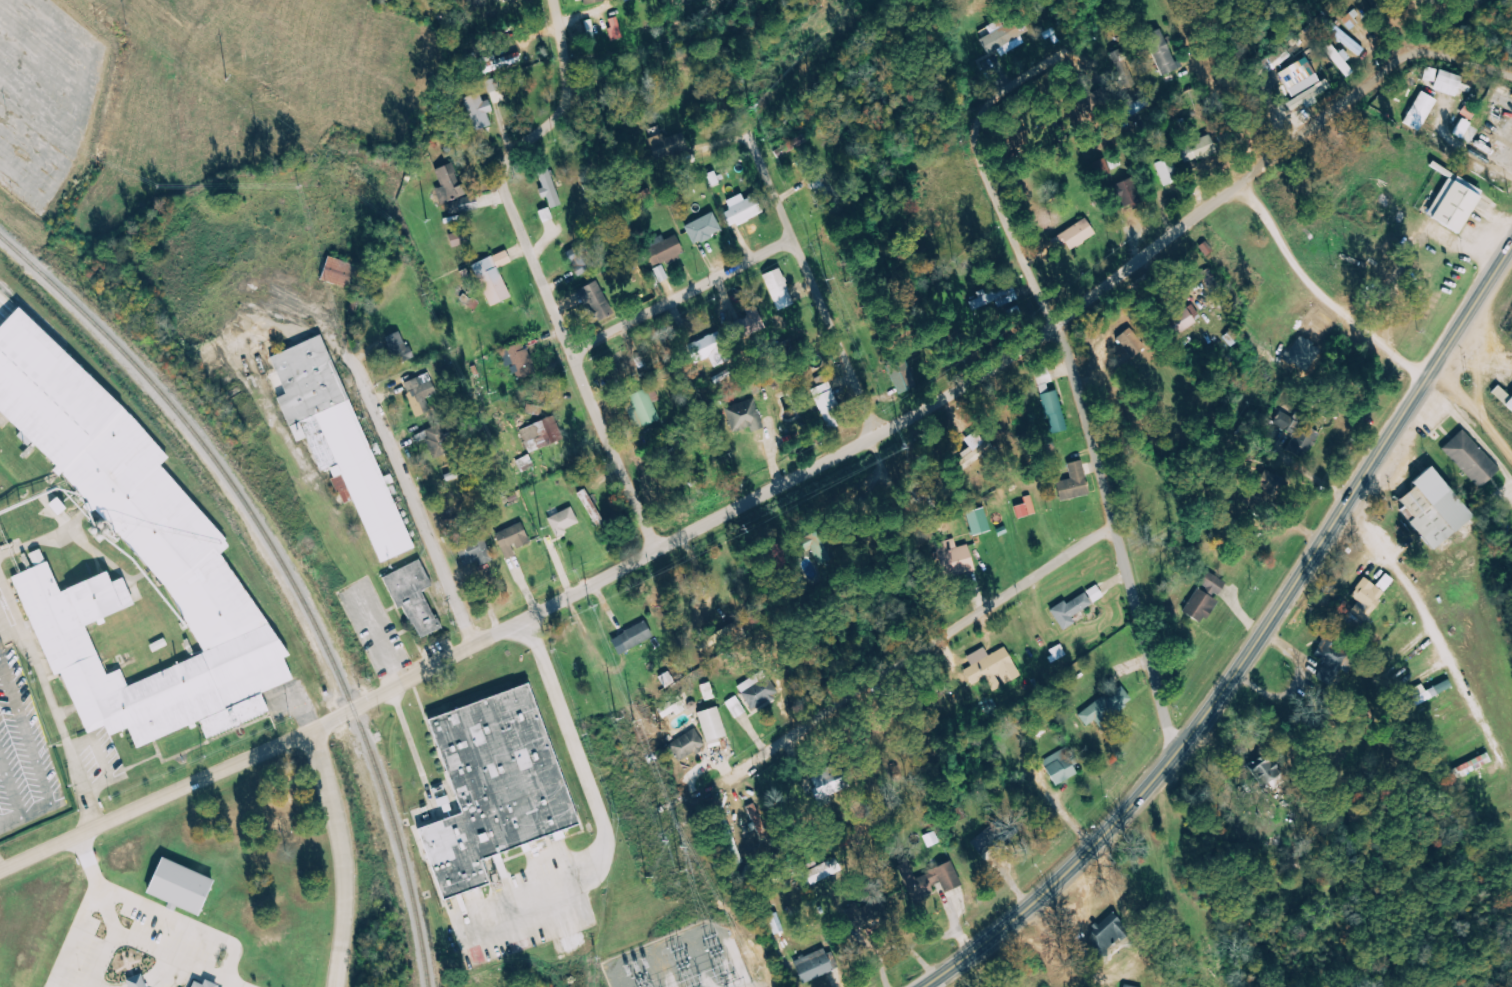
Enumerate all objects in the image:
building: (584, 1)
road: (1404, 27)
building: (615, 29)
building: (1344, 38)
road: (560, 52)
building: (1161, 52)
road: (1459, 57)
building: (498, 62)
building: (1442, 81)
building: (1308, 93)
building: (478, 111)
building: (1419, 112)
road: (14, 128)
road: (518, 148)
building: (1197, 149)
building: (1165, 172)
building: (449, 182)
building: (818, 183)
building: (548, 185)
building: (1124, 193)
building: (463, 205)
building: (1451, 207)
building: (741, 210)
building: (545, 215)
building: (702, 229)
building: (1075, 235)
building: (662, 251)
building: (335, 272)
building: (660, 274)
building: (492, 278)
building: (1208, 278)
road: (810, 286)
building: (777, 289)
road: (678, 293)
building: (995, 298)
building: (595, 302)
building: (1183, 320)
building: (746, 325)
building: (1127, 346)
building: (398, 347)
building: (706, 351)
building: (518, 362)
building: (901, 376)
road: (580, 379)
building: (1042, 379)
road: (1073, 389)
building: (419, 394)
building: (1499, 395)
building: (826, 404)
building: (644, 405)
building: (1508, 405)
building: (1052, 412)
road: (1471, 416)
building: (744, 417)
building: (546, 432)
building: (1296, 433)
building: (337, 437)
building: (432, 440)
building: (973, 441)
building: (1469, 459)
road: (1370, 465)
building: (1072, 483)
road: (419, 499)
building: (140, 506)
building: (590, 507)
building: (53, 508)
road: (732, 508)
building: (1025, 508)
building: (1431, 509)
building: (563, 521)
building: (977, 522)
building: (511, 540)
building: (821, 551)
building: (474, 552)
building: (953, 559)
railway: (285, 571)
road: (1040, 571)
building: (1211, 584)
building: (1094, 594)
building: (1368, 597)
building: (415, 599)
building: (1199, 607)
building: (1069, 611)
building: (630, 638)
building: (990, 669)
building: (759, 694)
building: (673, 707)
building: (737, 707)
building: (1105, 707)
building: (711, 724)
building: (686, 745)
building: (1471, 766)
building: (1060, 767)
building: (1264, 772)
building: (496, 786)
building: (824, 786)
building: (955, 816)
road: (1086, 850)
road: (343, 856)
building: (822, 873)
building: (944, 878)
building: (189, 887)
building: (775, 923)
building: (1108, 933)
power substation: (682, 960)
building: (811, 966)
building: (146, 981)
building: (211, 984)

